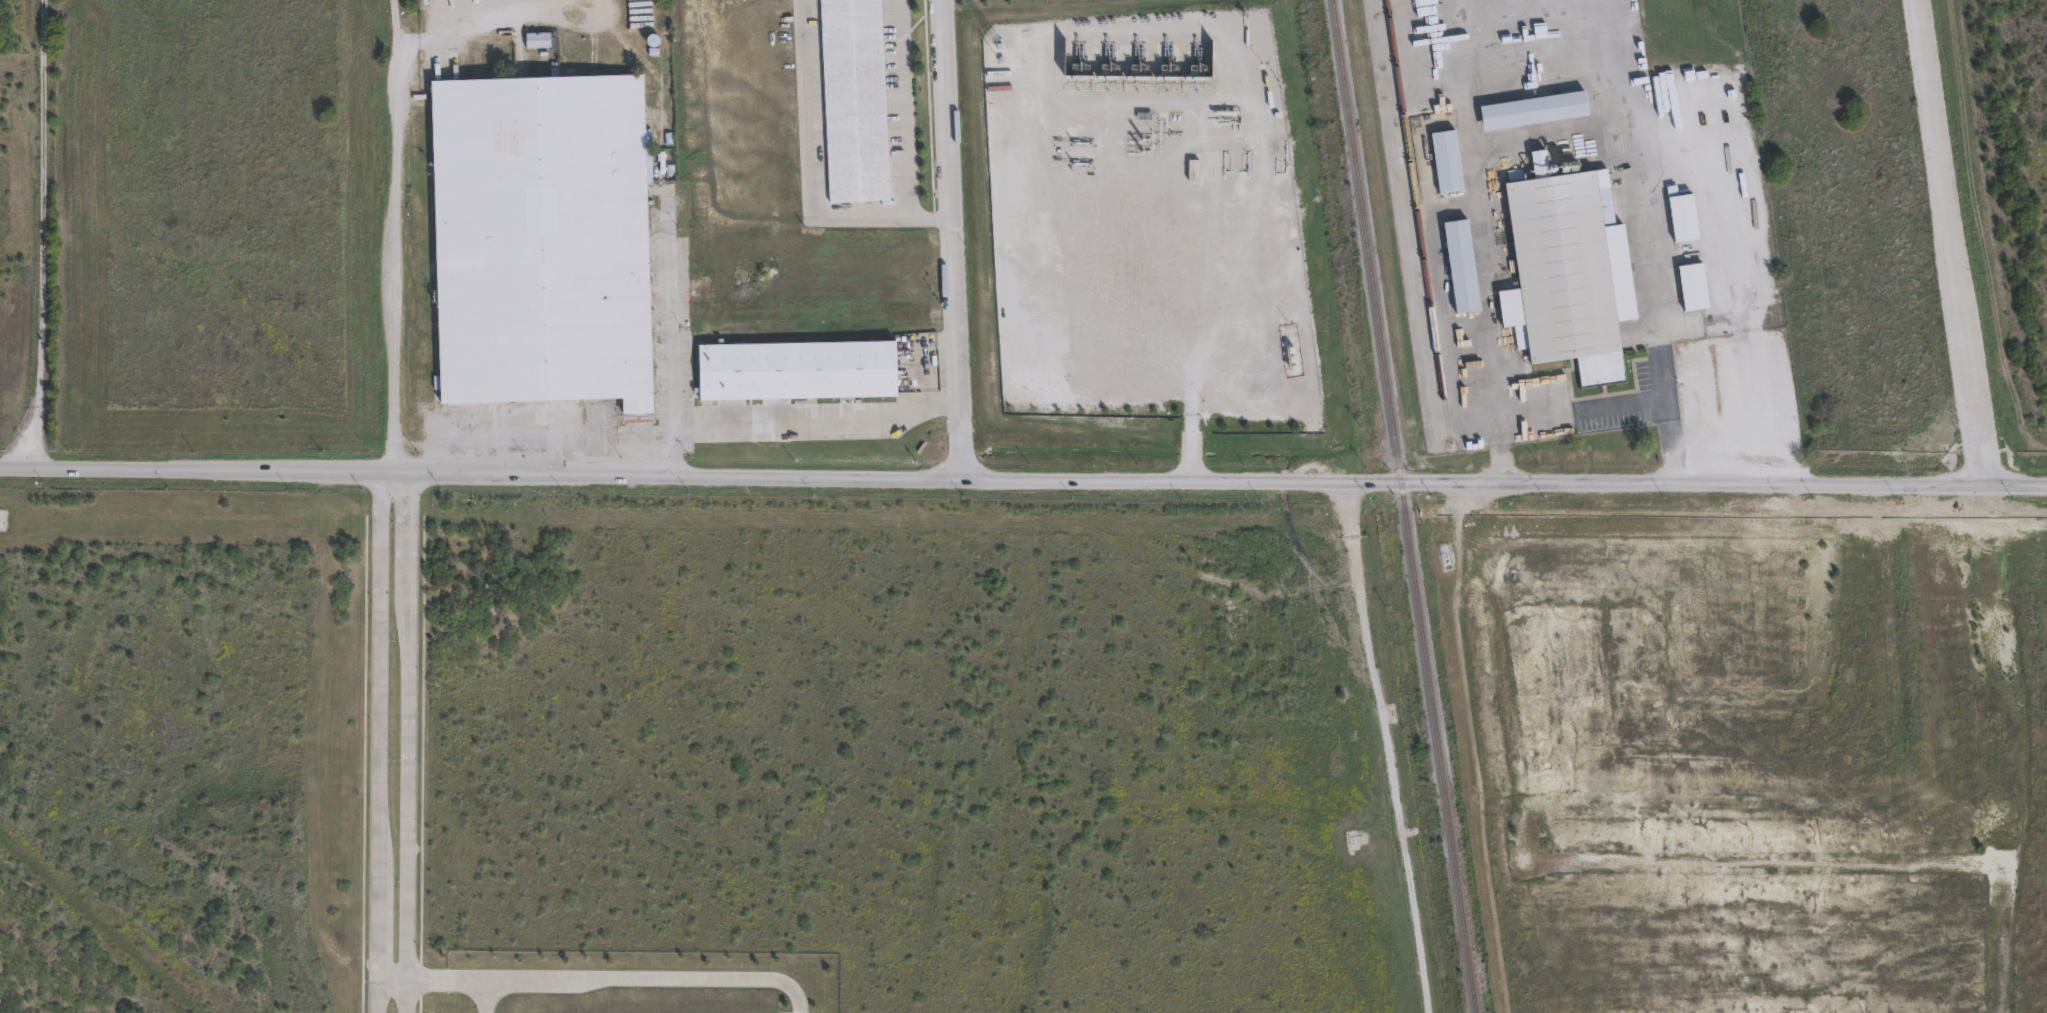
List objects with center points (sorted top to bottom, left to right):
building: (537, 41)
building: (853, 101)
road: (903, 110)
building: (1530, 110)
road: (1529, 133)
building: (1443, 161)
road: (809, 181)
building: (1680, 218)
railway: (1417, 219)
road: (41, 234)
road: (395, 236)
building: (542, 240)
road: (956, 240)
road: (1956, 243)
building: (1458, 266)
building: (1565, 272)
road: (1736, 277)
building: (1690, 287)
road: (670, 319)
road: (1184, 346)
building: (799, 369)
road: (1665, 399)
road: (819, 422)
road: (542, 439)
road: (673, 453)
road: (1023, 481)
railway: (1402, 506)
building: (488, 604)
road: (377, 743)
road: (407, 743)
road: (1383, 746)
road: (433, 978)
road: (636, 978)

